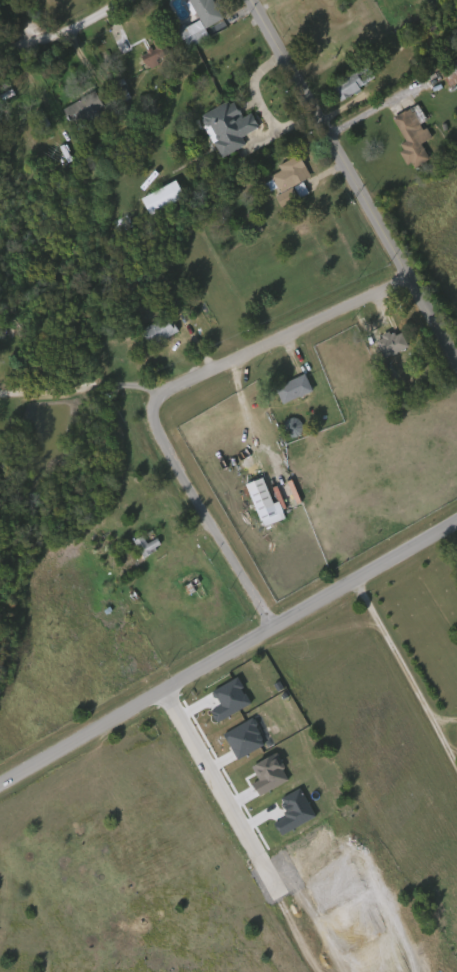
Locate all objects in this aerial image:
building: (201, 22)
road: (63, 30)
building: (149, 55)
building: (452, 73)
building: (355, 84)
building: (88, 114)
building: (230, 127)
building: (415, 135)
building: (292, 174)
road: (352, 182)
building: (164, 198)
building: (160, 331)
road: (277, 337)
building: (394, 342)
building: (295, 389)
road: (241, 416)
building: (265, 503)
road: (207, 515)
building: (141, 545)
building: (148, 546)
building: (193, 587)
road: (228, 650)
road: (404, 674)
road: (220, 794)

